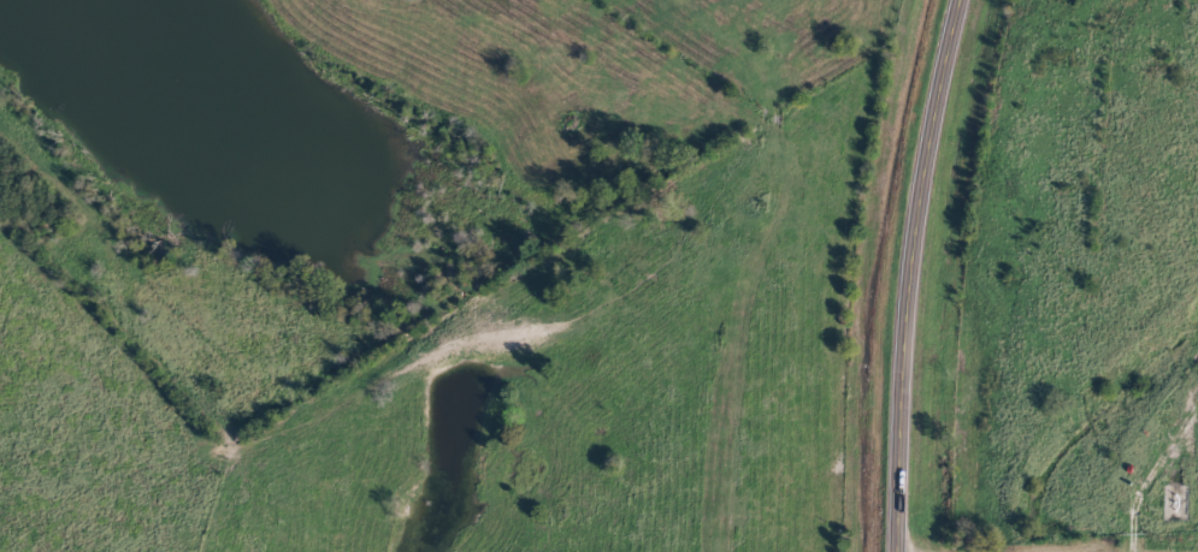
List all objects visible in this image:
road: (905, 273)

